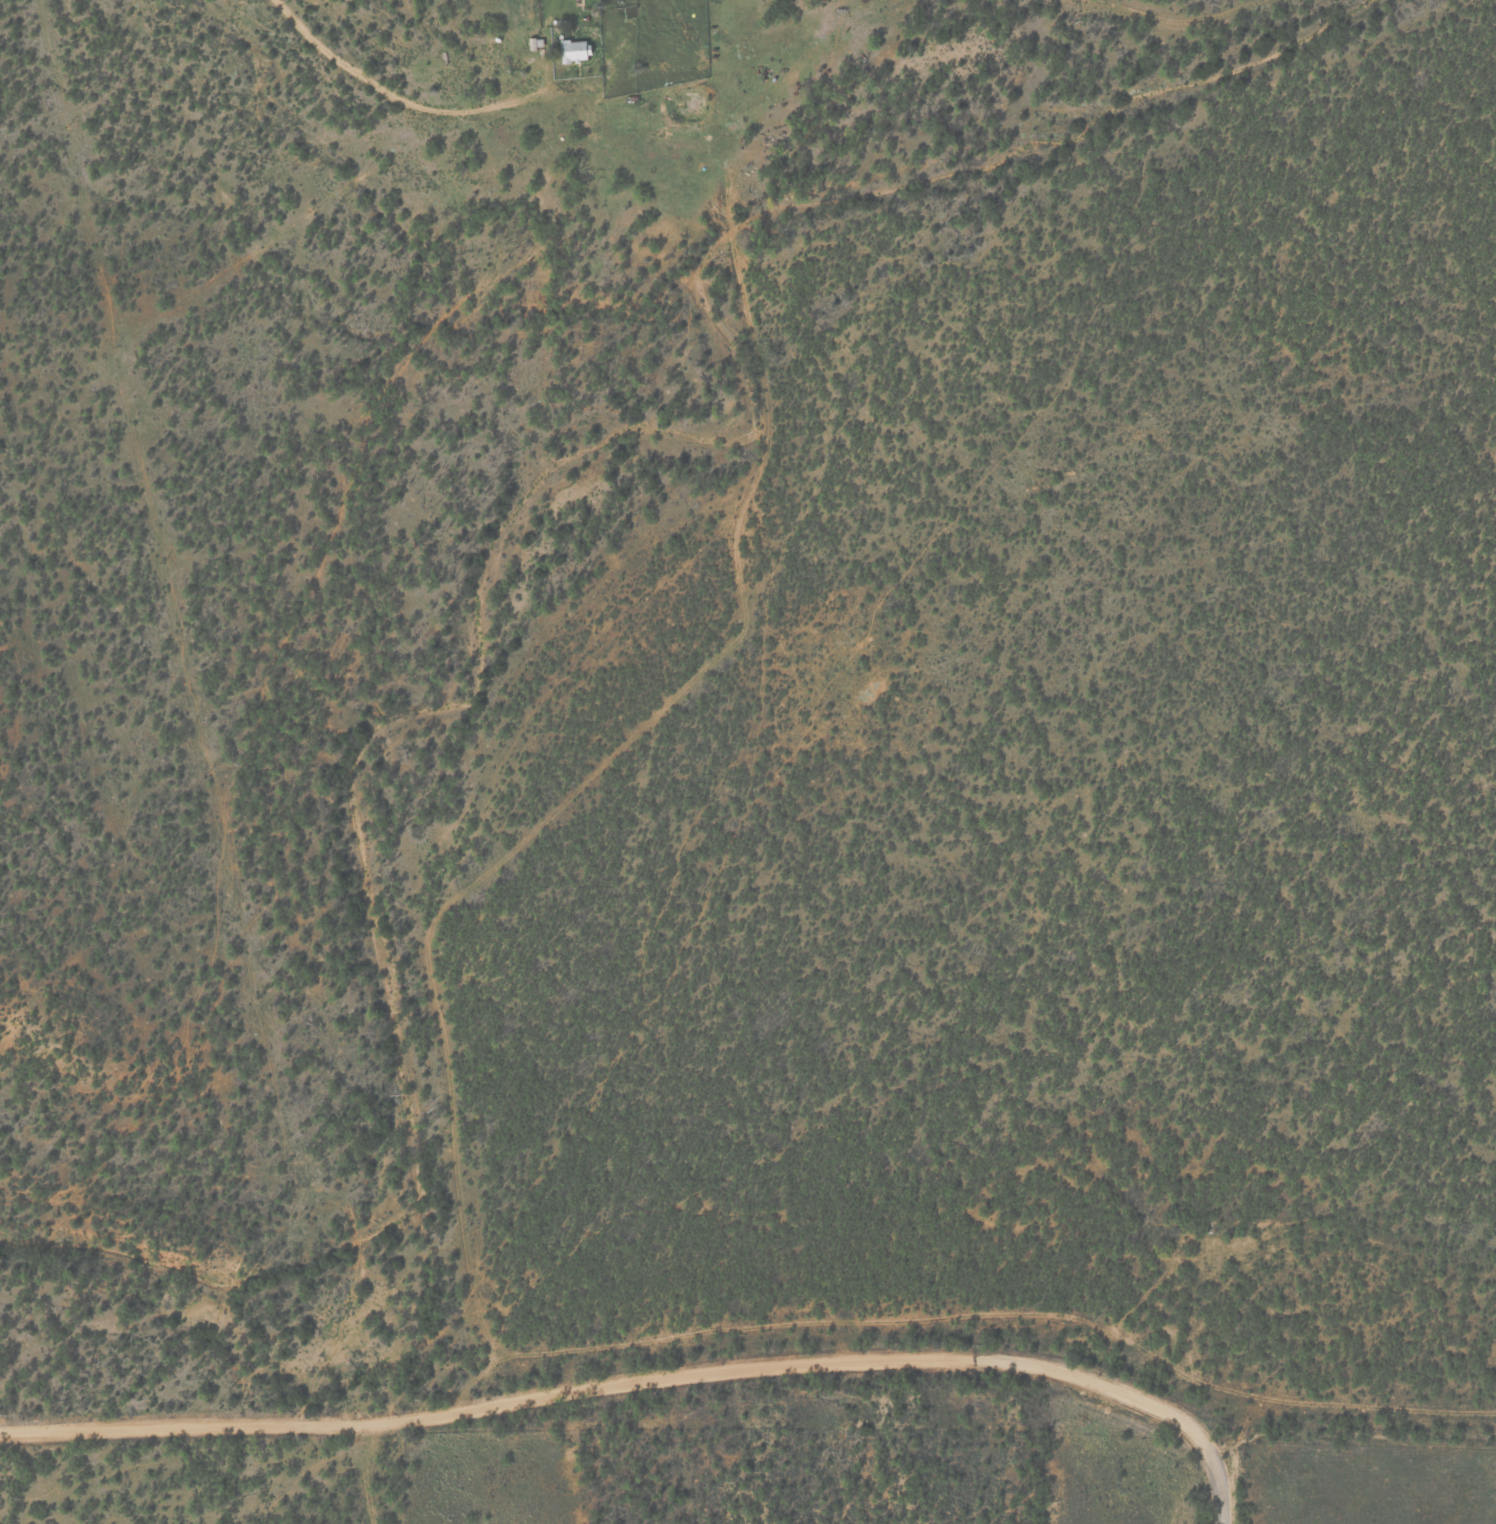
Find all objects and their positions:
building: (577, 51)
road: (541, 88)
road: (656, 1376)

